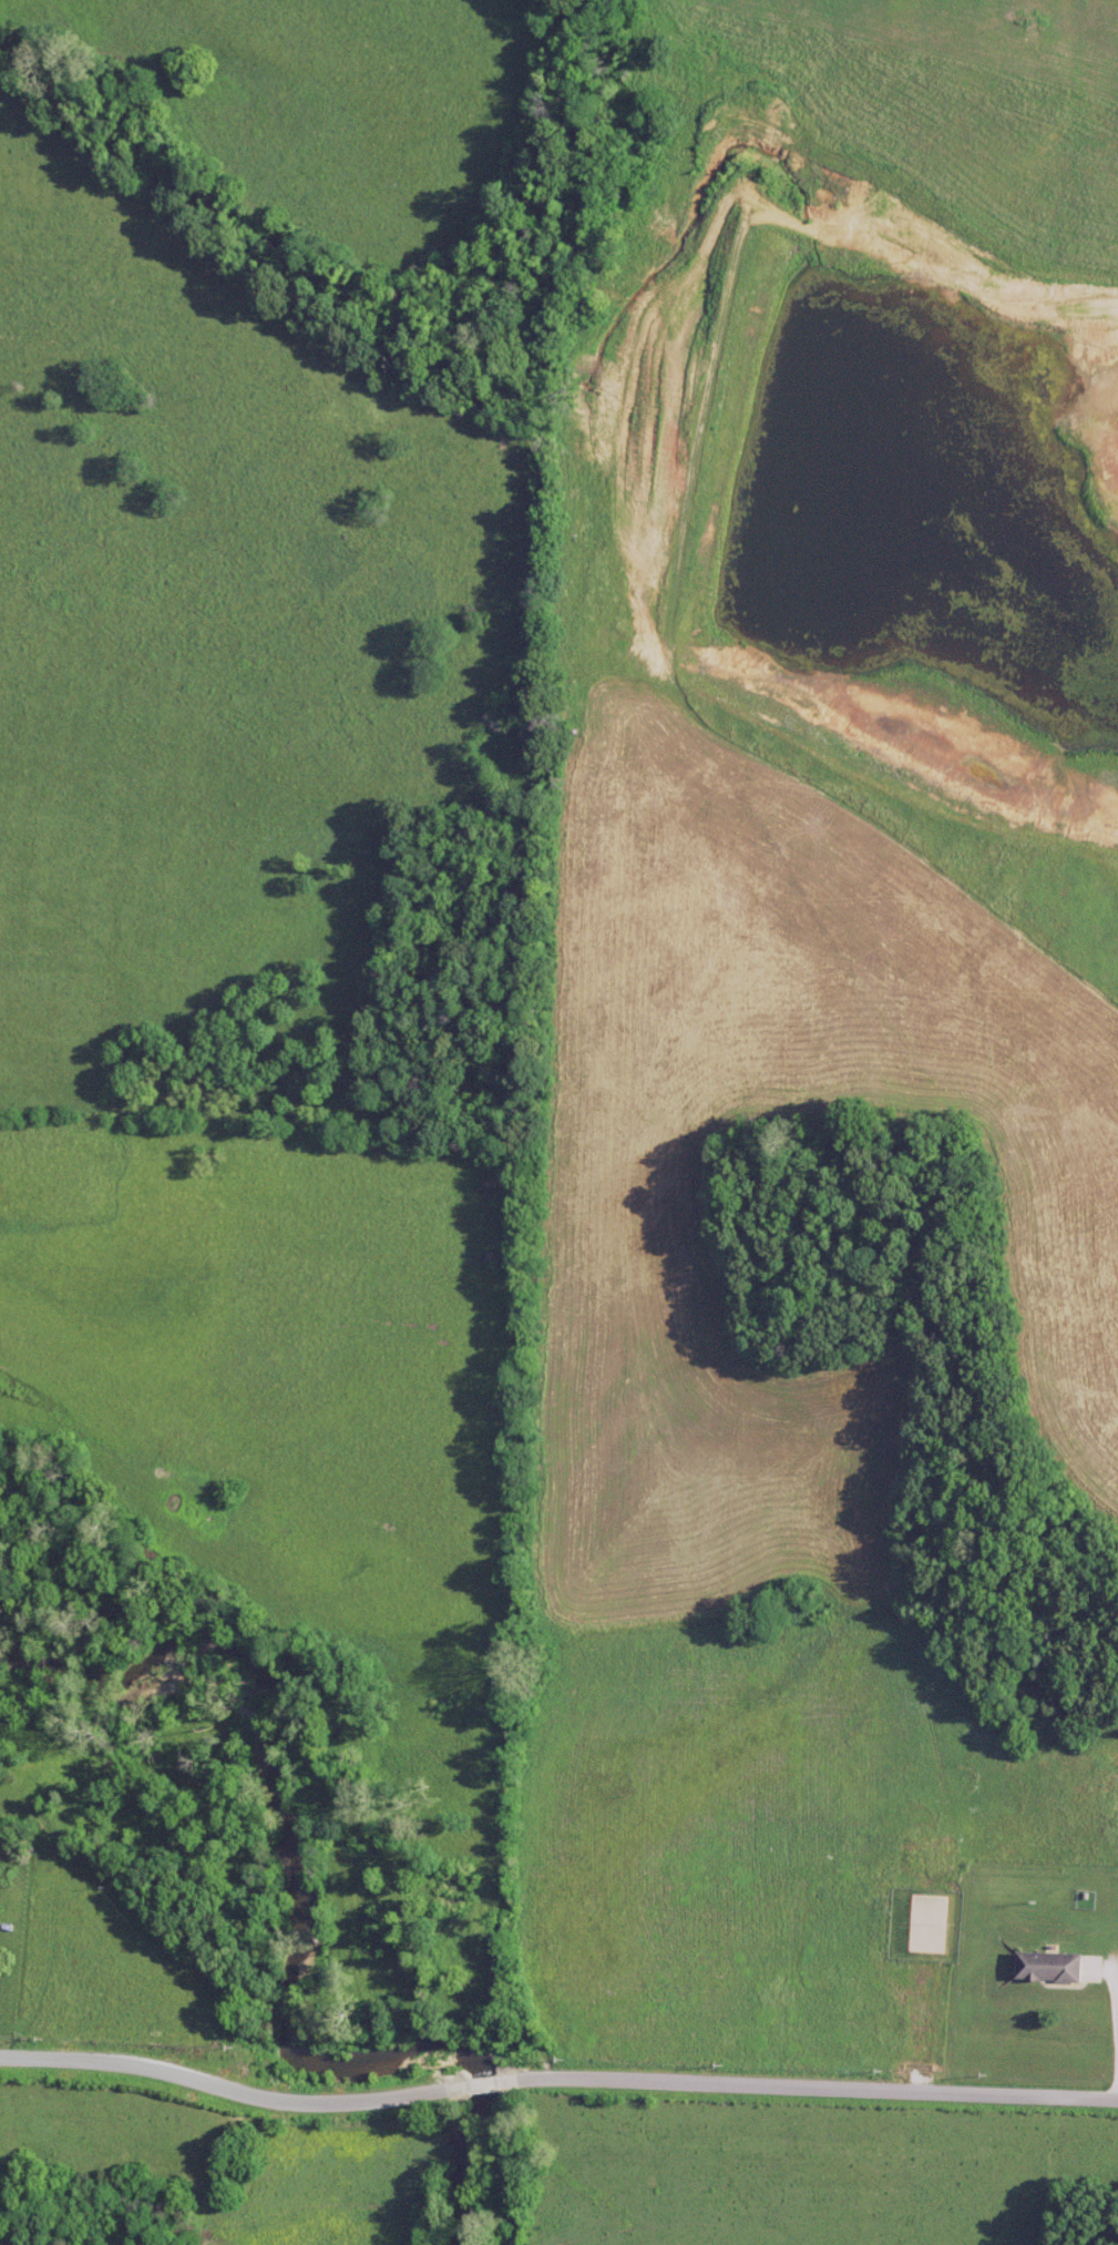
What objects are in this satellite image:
building: (1054, 1968)
road: (1100, 1969)
road: (555, 2080)

